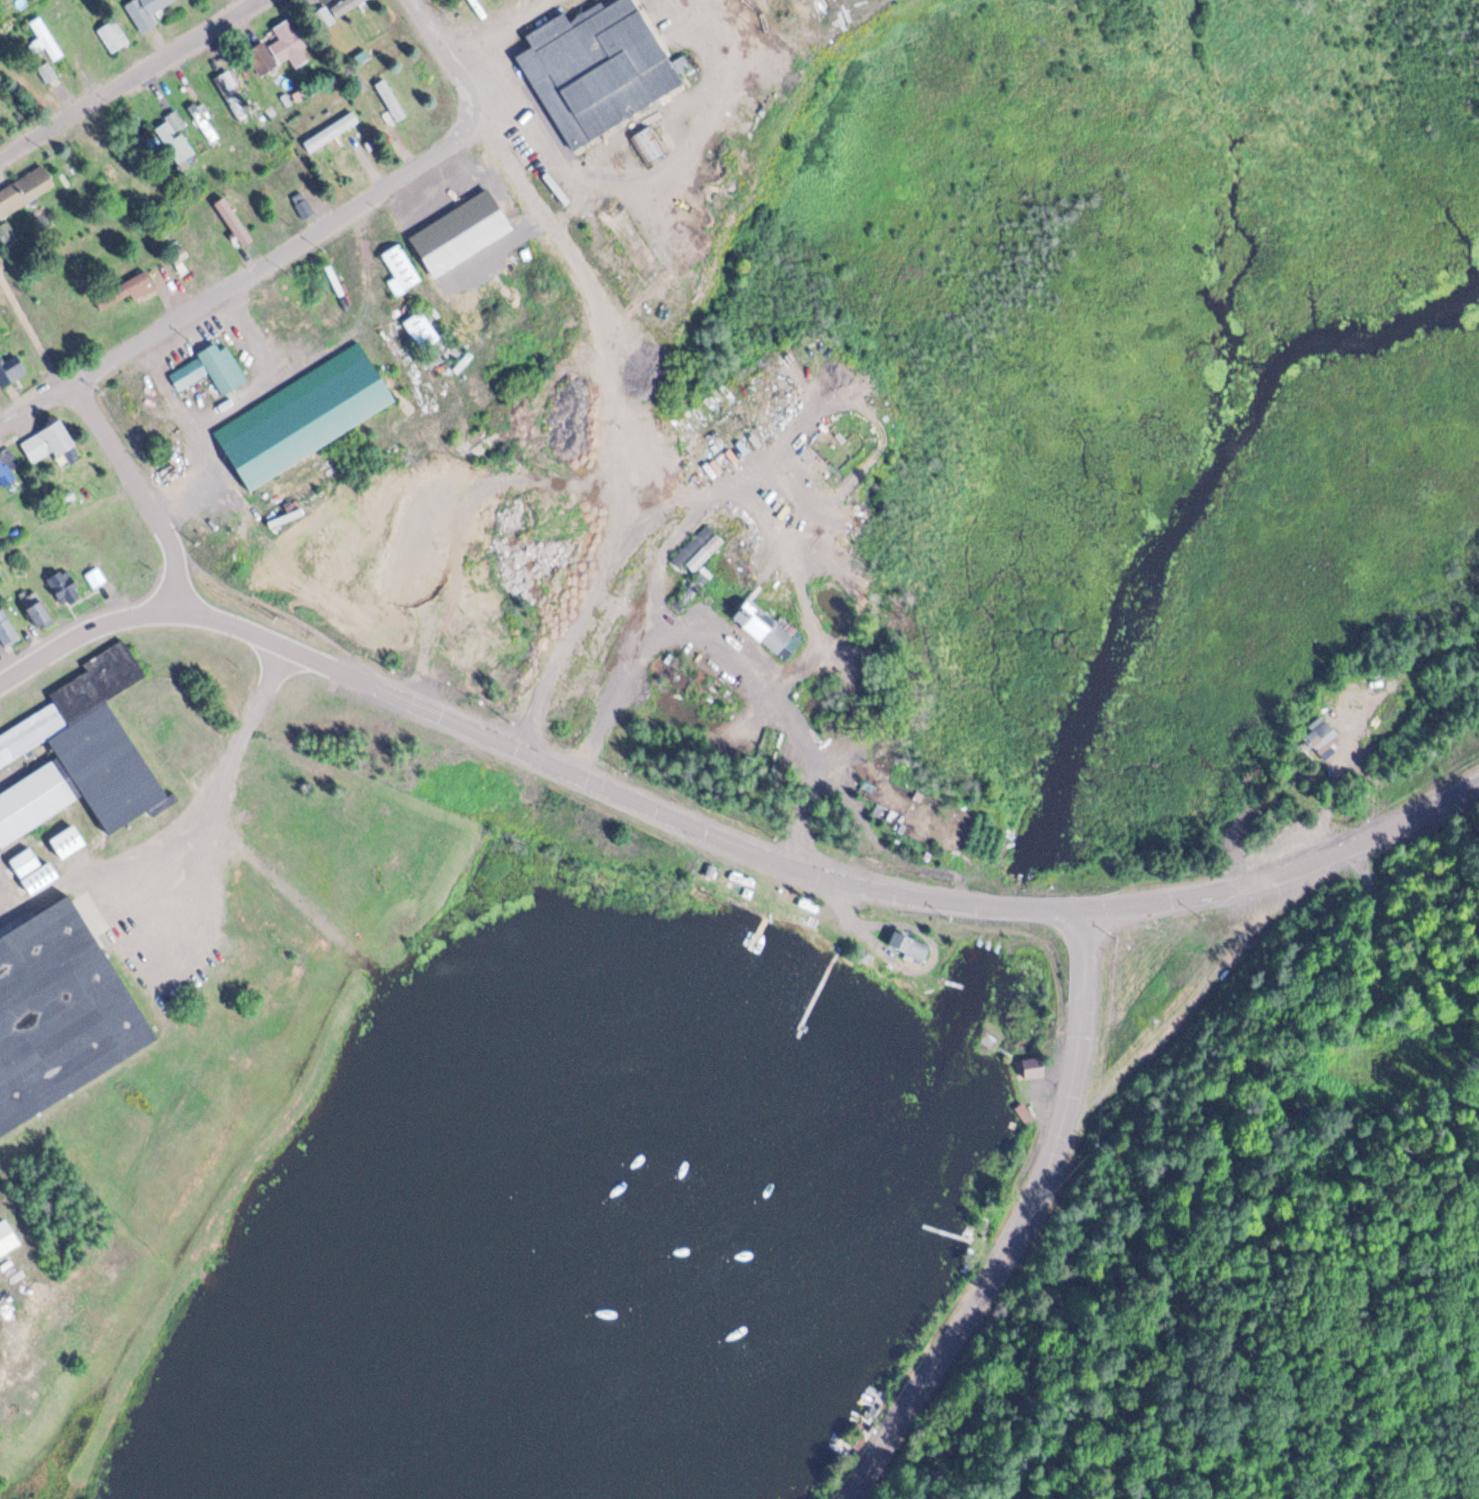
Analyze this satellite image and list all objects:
building: (346, 6)
building: (146, 11)
building: (324, 16)
building: (115, 35)
building: (292, 38)
building: (46, 39)
building: (263, 57)
road: (452, 66)
building: (597, 71)
building: (48, 72)
road: (141, 75)
building: (236, 97)
building: (391, 99)
building: (206, 122)
building: (332, 131)
building: (173, 140)
building: (648, 144)
road: (10, 157)
building: (617, 180)
building: (25, 190)
building: (303, 203)
building: (231, 220)
building: (457, 231)
road: (268, 265)
building: (399, 268)
building: (125, 289)
building: (420, 329)
building: (208, 368)
building: (8, 370)
road: (35, 407)
building: (302, 419)
building: (45, 440)
building: (483, 441)
building: (4, 475)
road: (140, 492)
building: (689, 532)
building: (706, 555)
building: (94, 577)
building: (62, 586)
building: (697, 588)
building: (34, 608)
building: (768, 625)
building: (6, 630)
road: (89, 631)
building: (1319, 735)
building: (82, 751)
road: (578, 774)
road: (1337, 787)
building: (871, 788)
road: (193, 832)
building: (67, 839)
building: (26, 861)
road: (1295, 863)
building: (41, 876)
road: (1038, 908)
road: (855, 917)
building: (912, 944)
building: (59, 1012)
building: (1034, 1066)
road: (1028, 1224)
building: (8, 1237)

